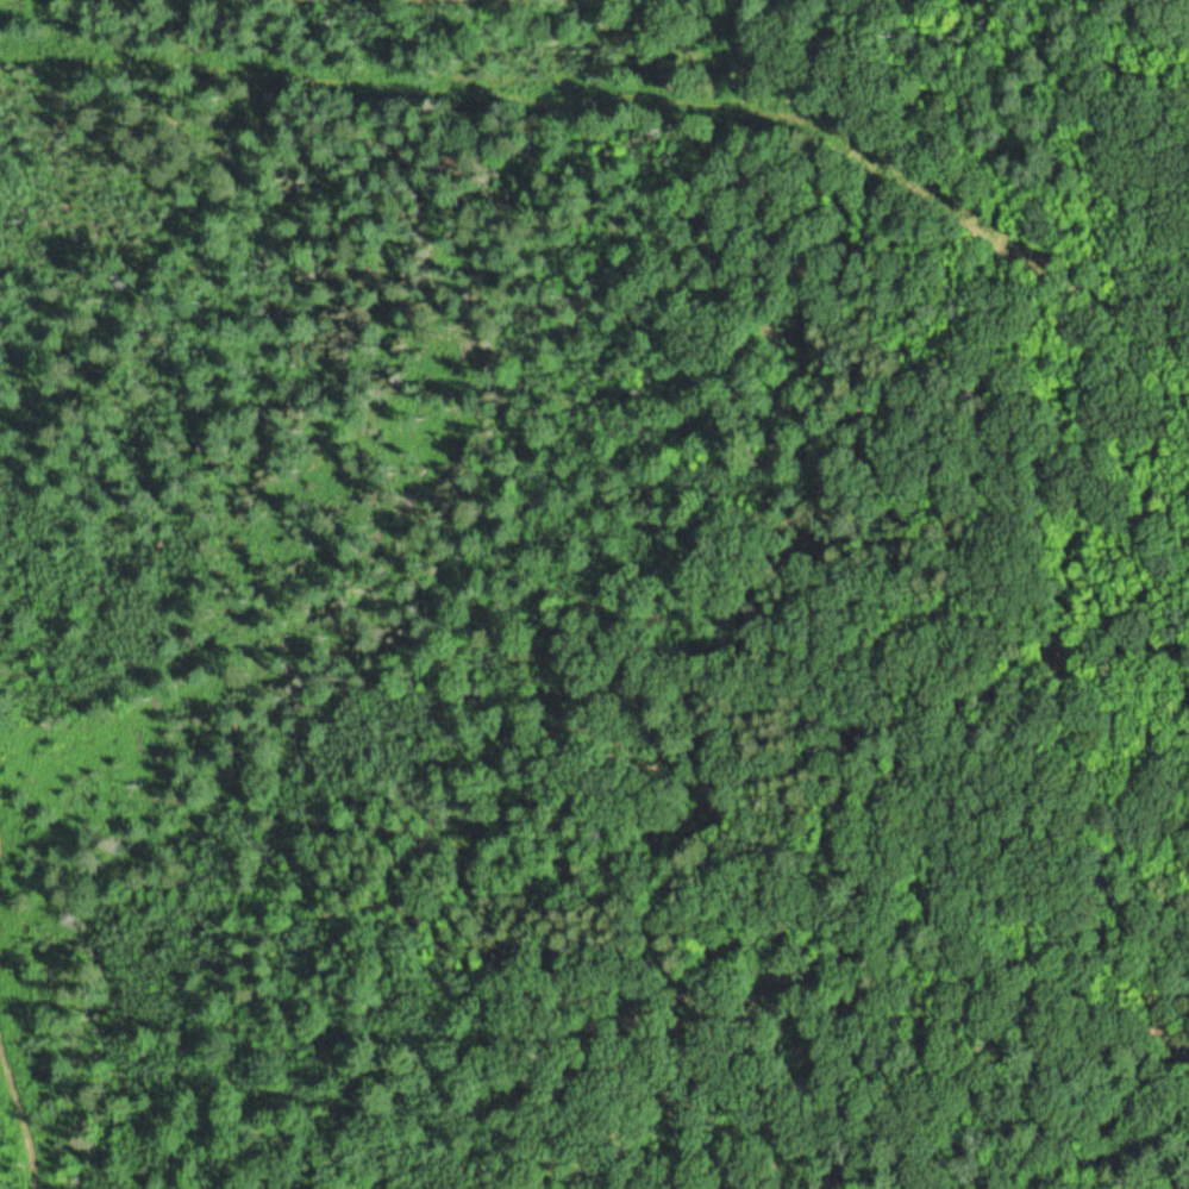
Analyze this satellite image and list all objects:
road: (8, 1009)

